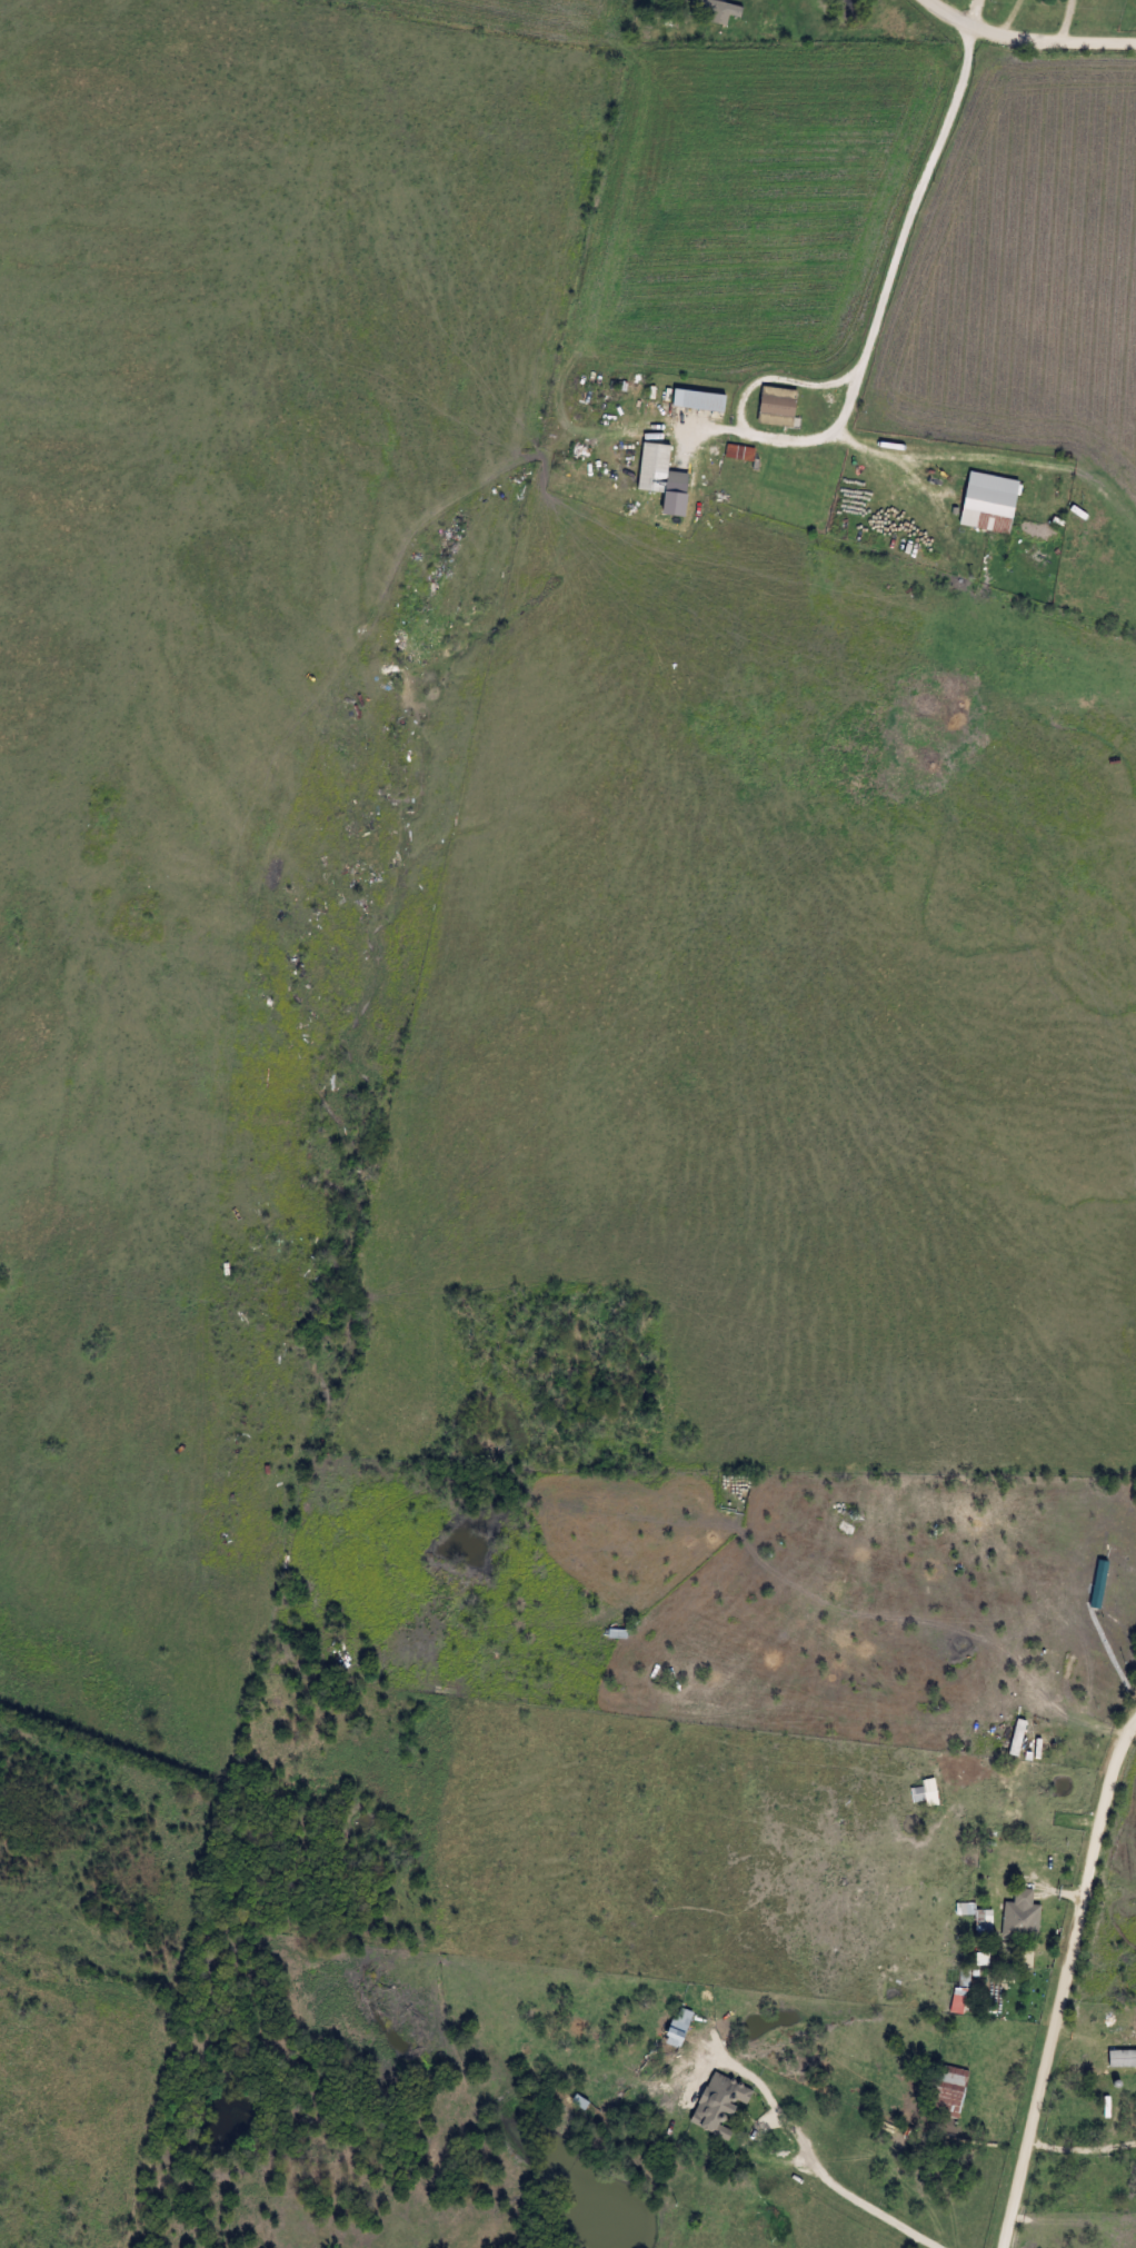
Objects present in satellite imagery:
road: (975, 10)
road: (1013, 14)
road: (1069, 19)
road: (1024, 33)
road: (1128, 42)
road: (963, 88)
road: (888, 291)
building: (701, 401)
building: (779, 407)
road: (750, 428)
building: (739, 452)
building: (660, 471)
building: (991, 503)
building: (618, 1634)
road: (1033, 1770)
building: (980, 1921)
building: (1024, 1921)
road: (1065, 1983)
road: (1134, 2037)
road: (1113, 2042)
road: (1116, 2078)
building: (950, 2091)
building: (723, 2103)
road: (860, 2196)

